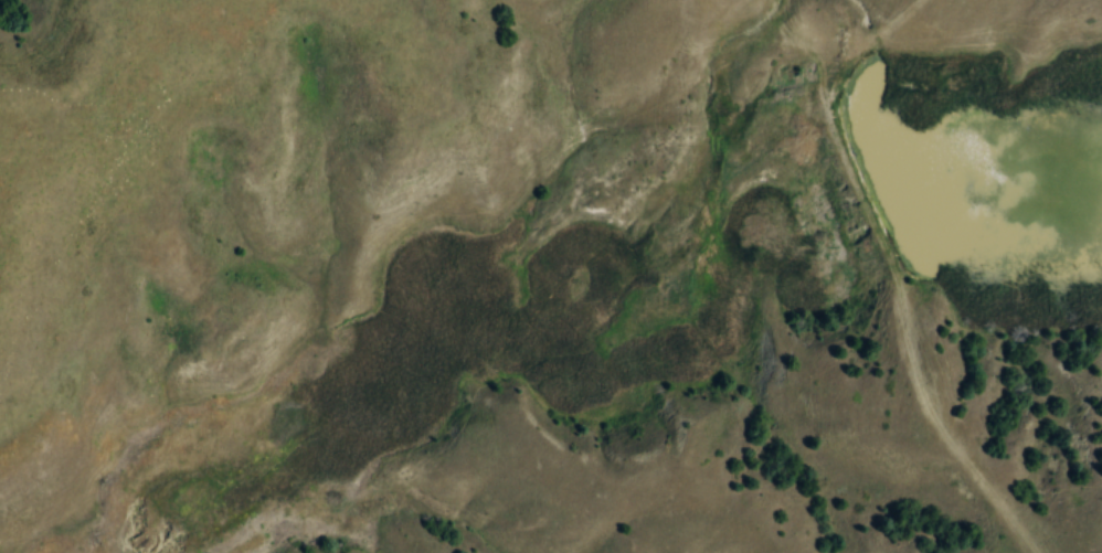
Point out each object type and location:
dam: (873, 221)
road: (890, 280)

